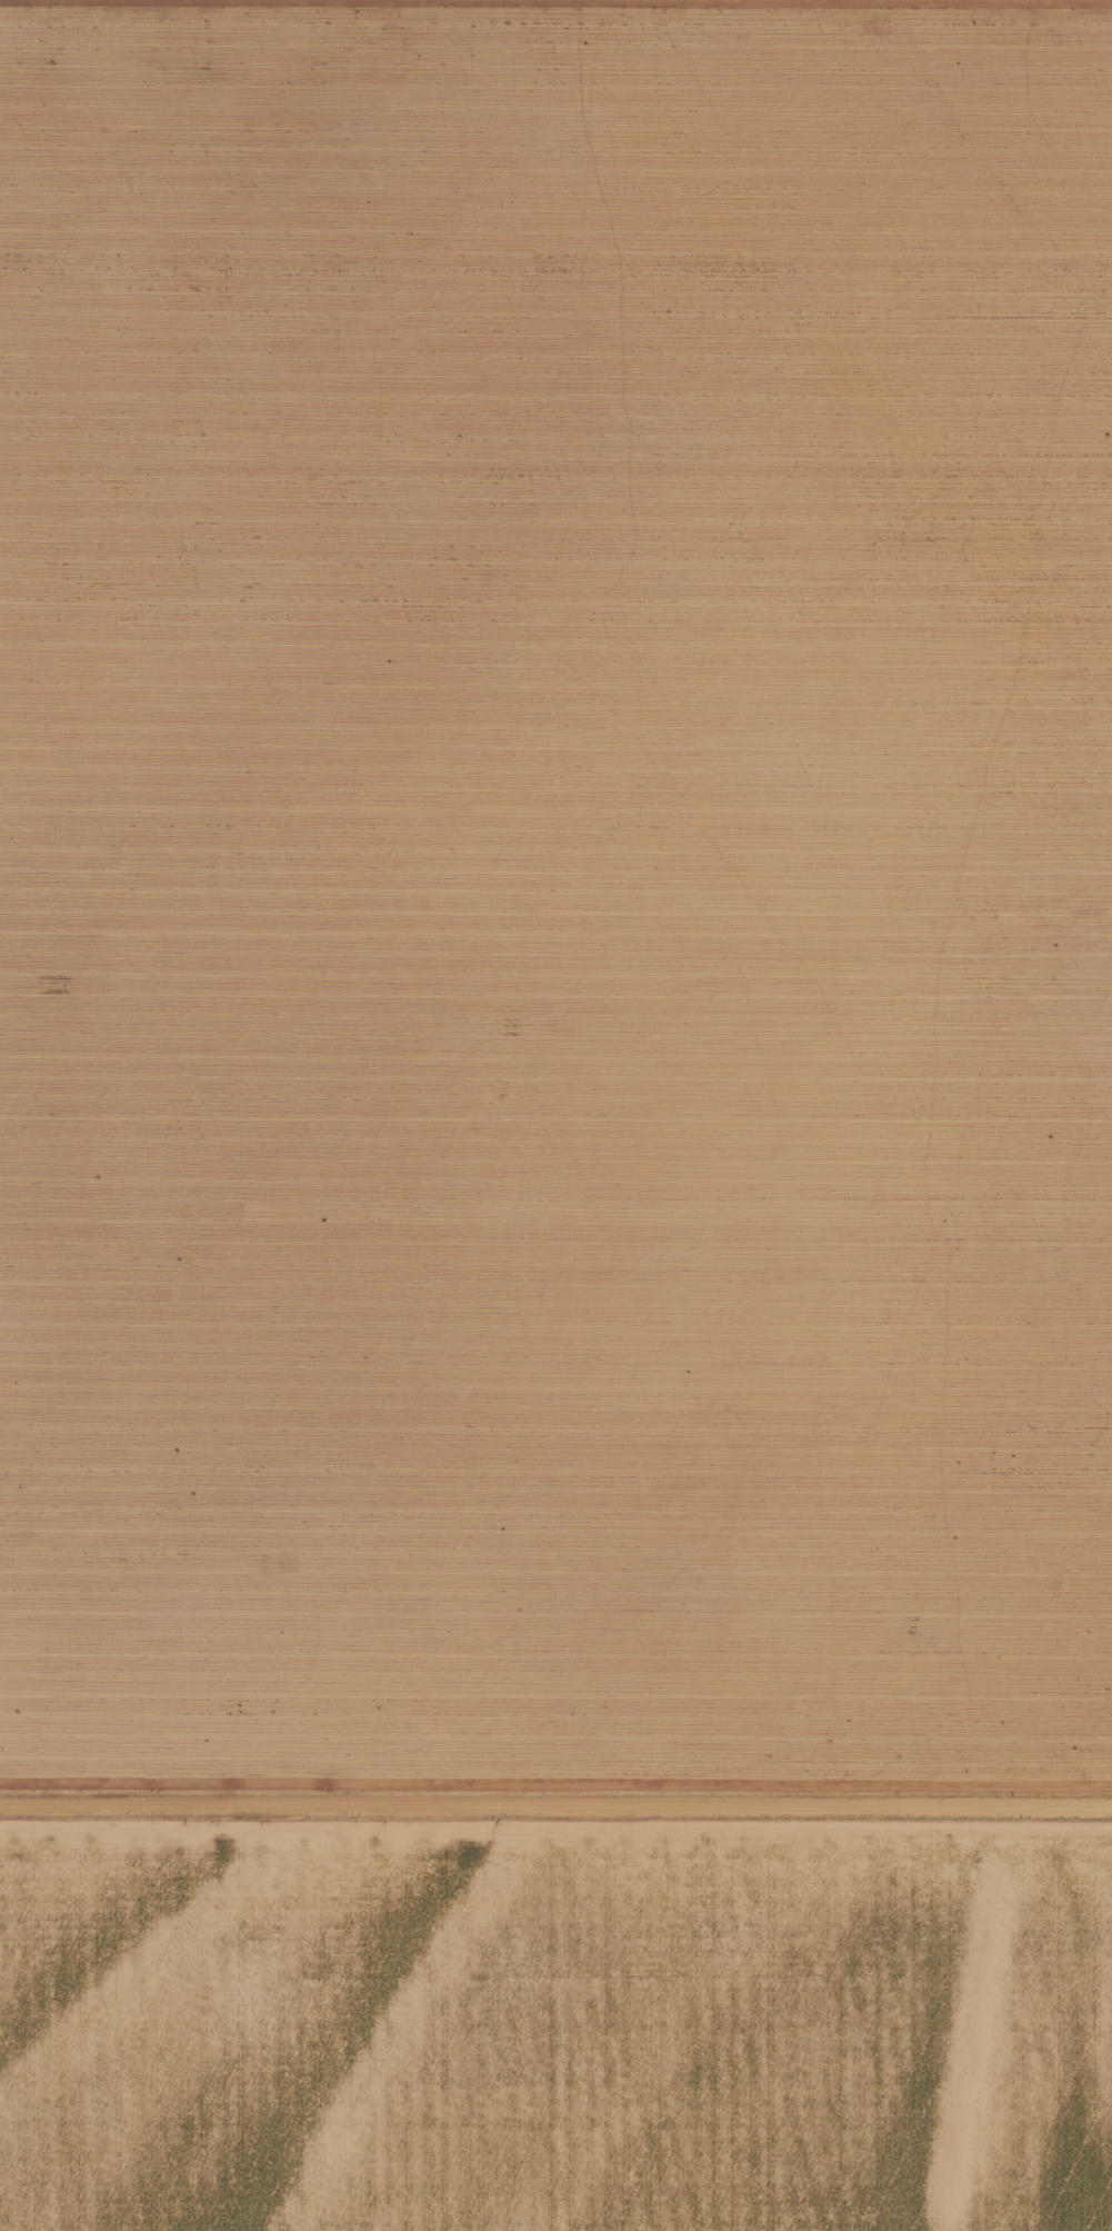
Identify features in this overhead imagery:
road: (555, 1804)

